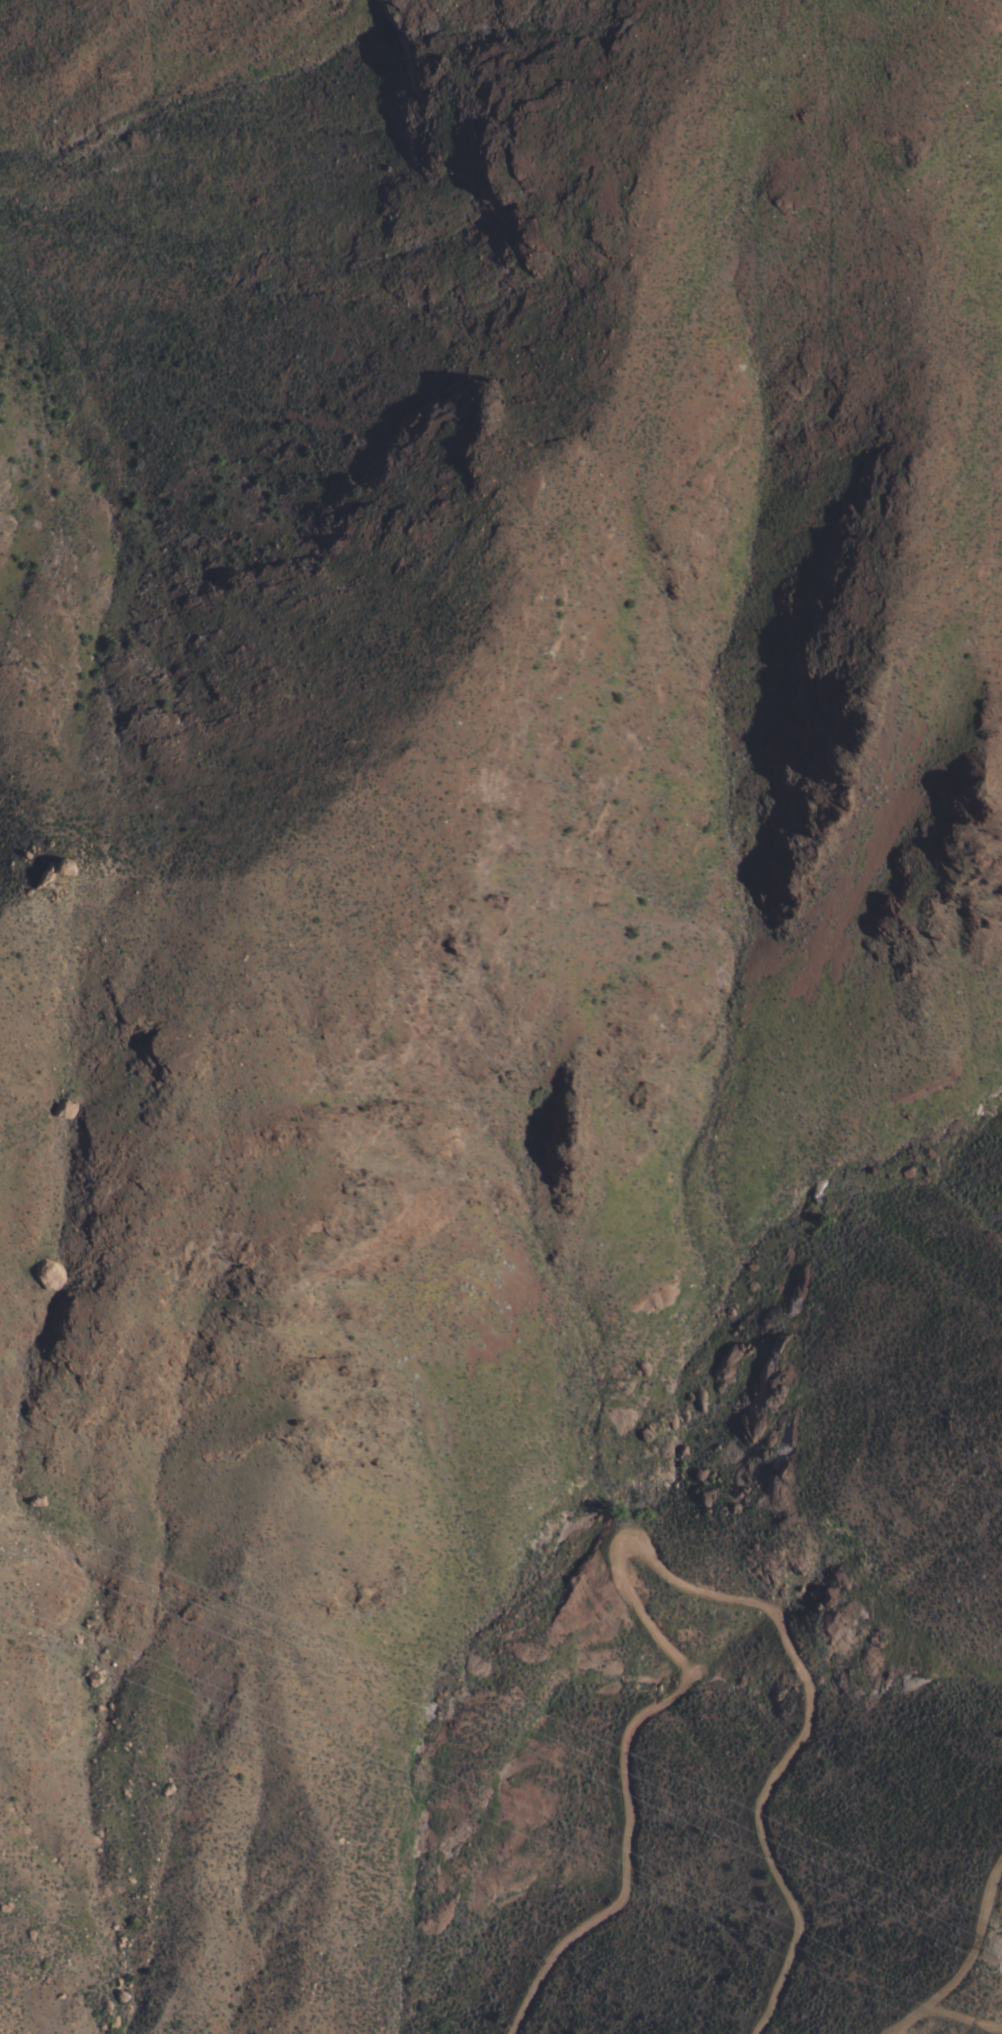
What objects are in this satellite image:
power tower: (991, 1948)

